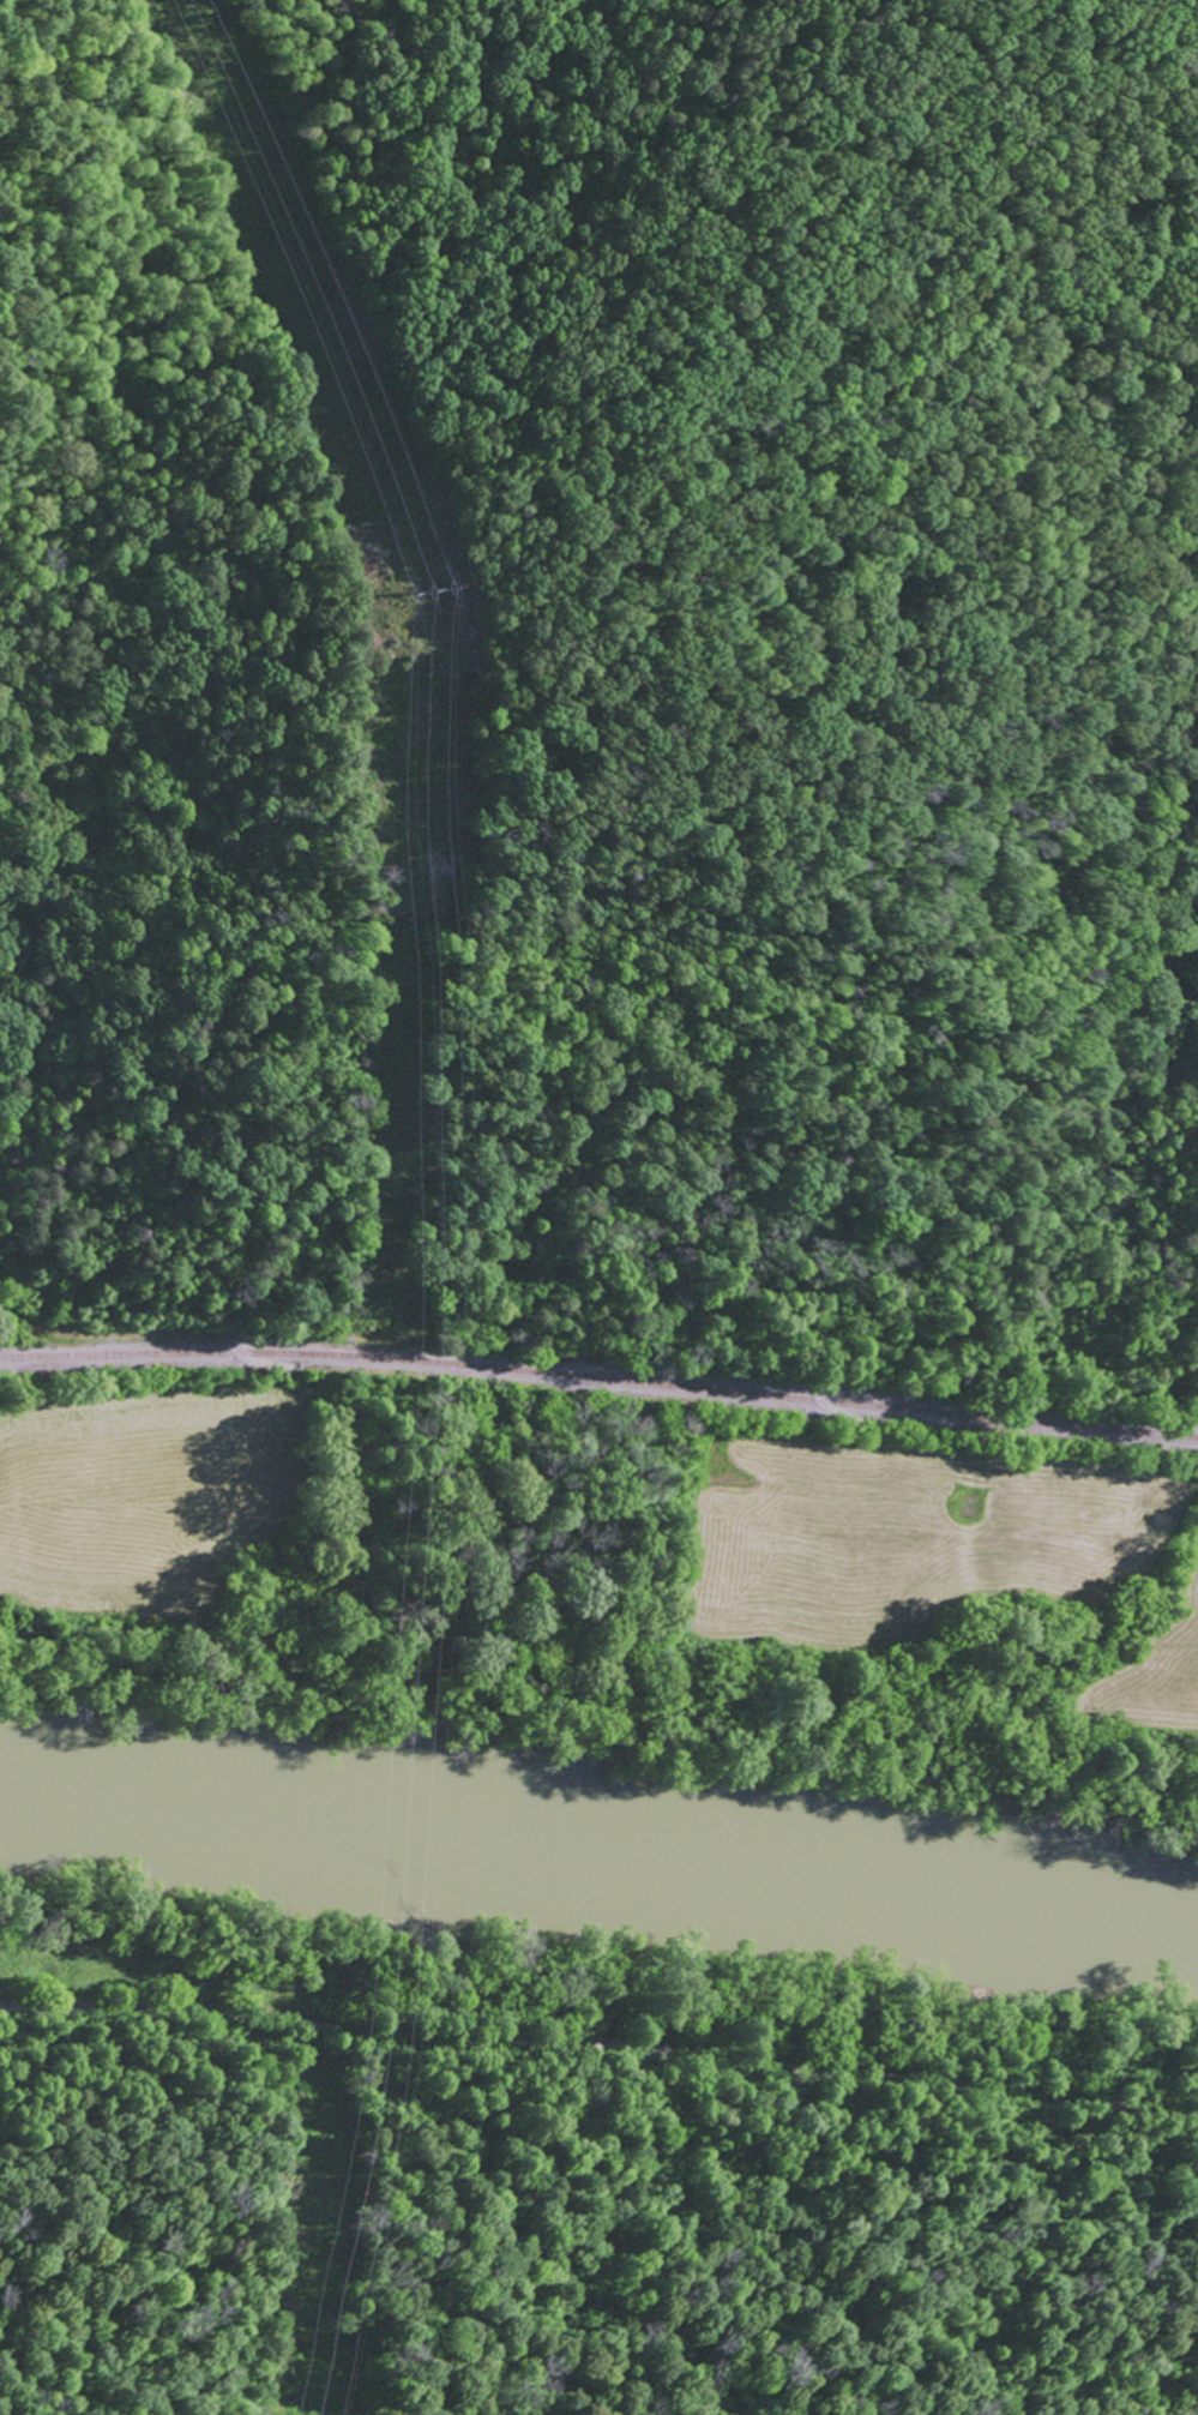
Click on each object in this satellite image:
power tower: (435, 589)
railway: (600, 1360)
river: (600, 1842)
road: (600, 2050)

